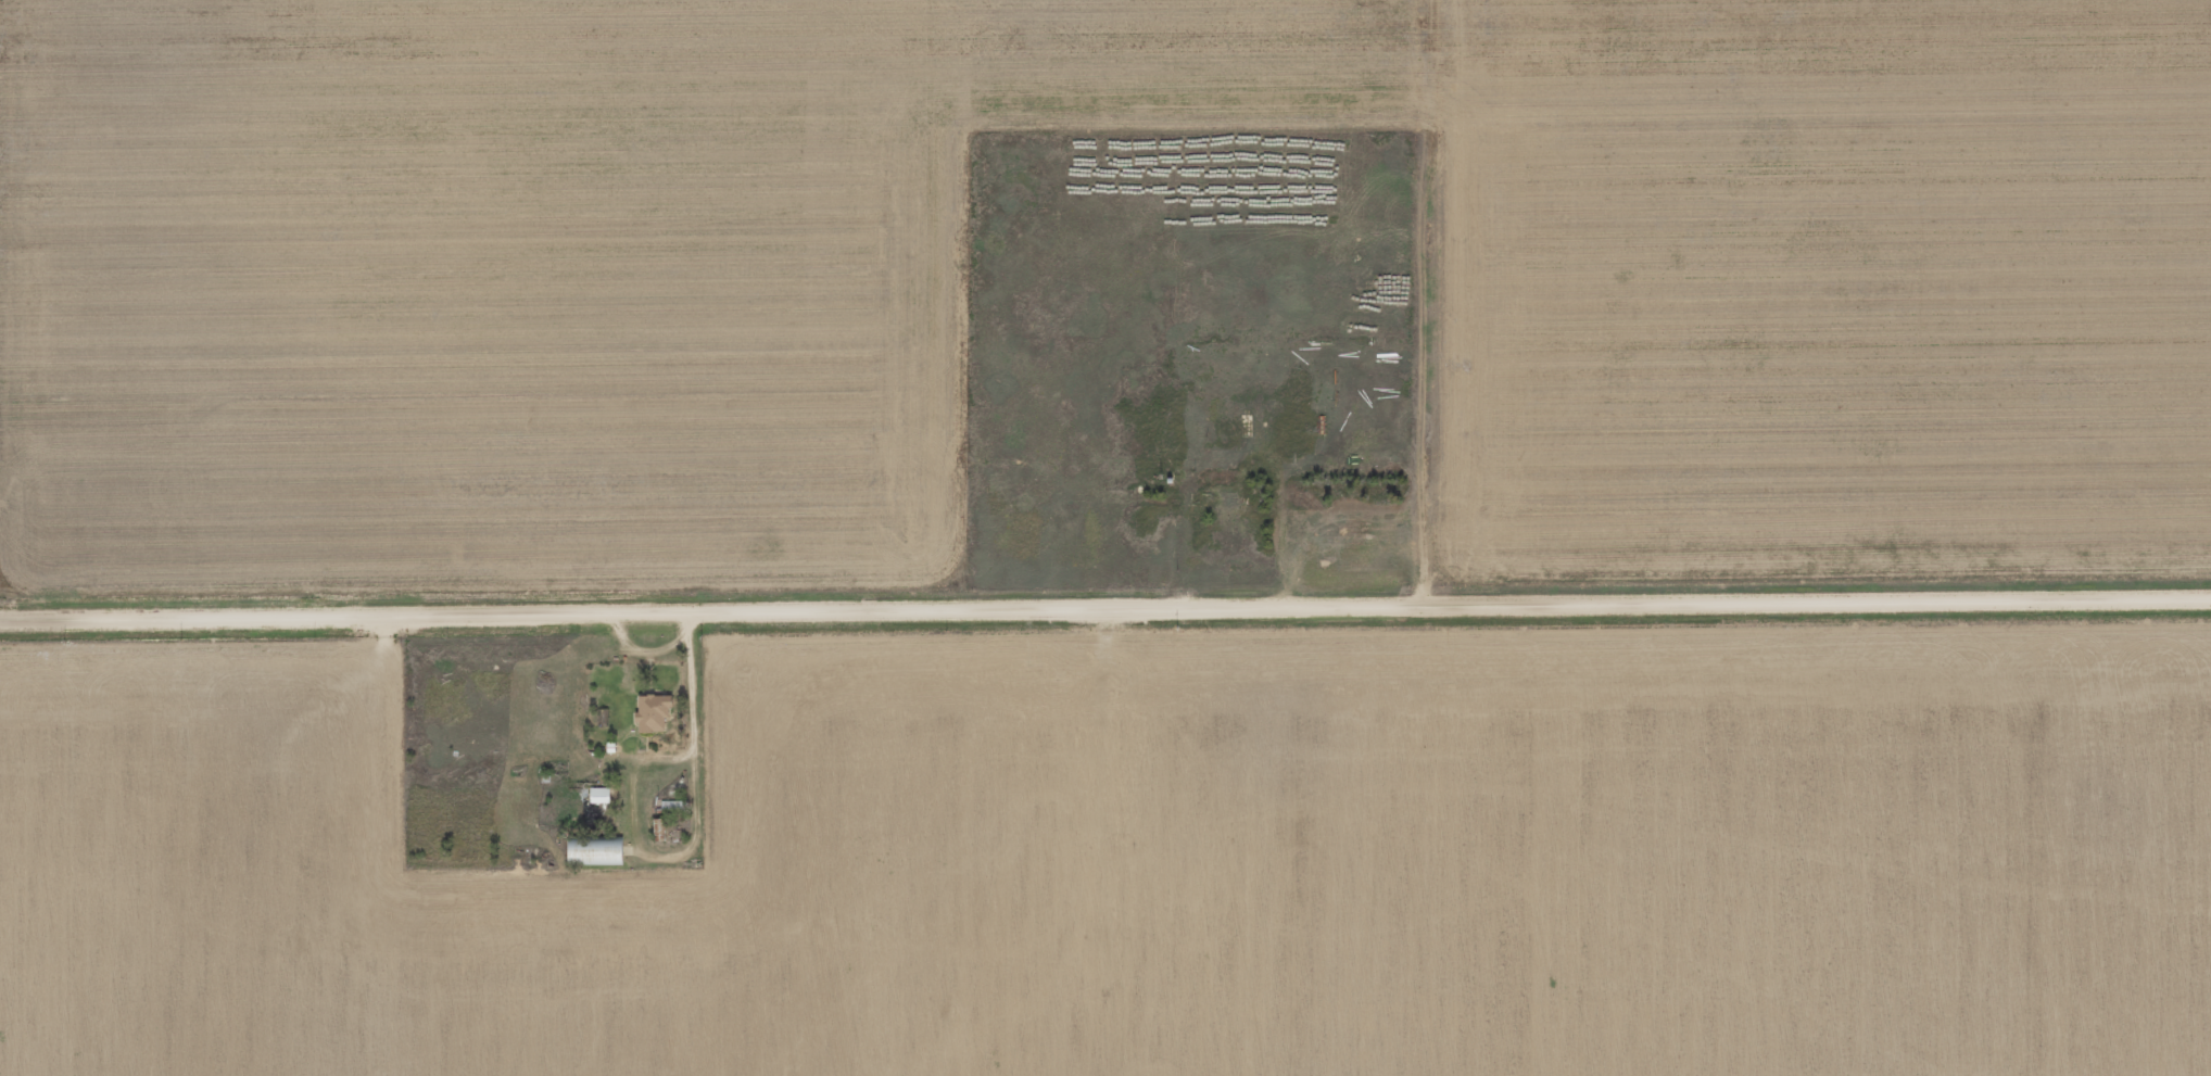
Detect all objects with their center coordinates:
road: (1105, 606)
road: (928, 777)

